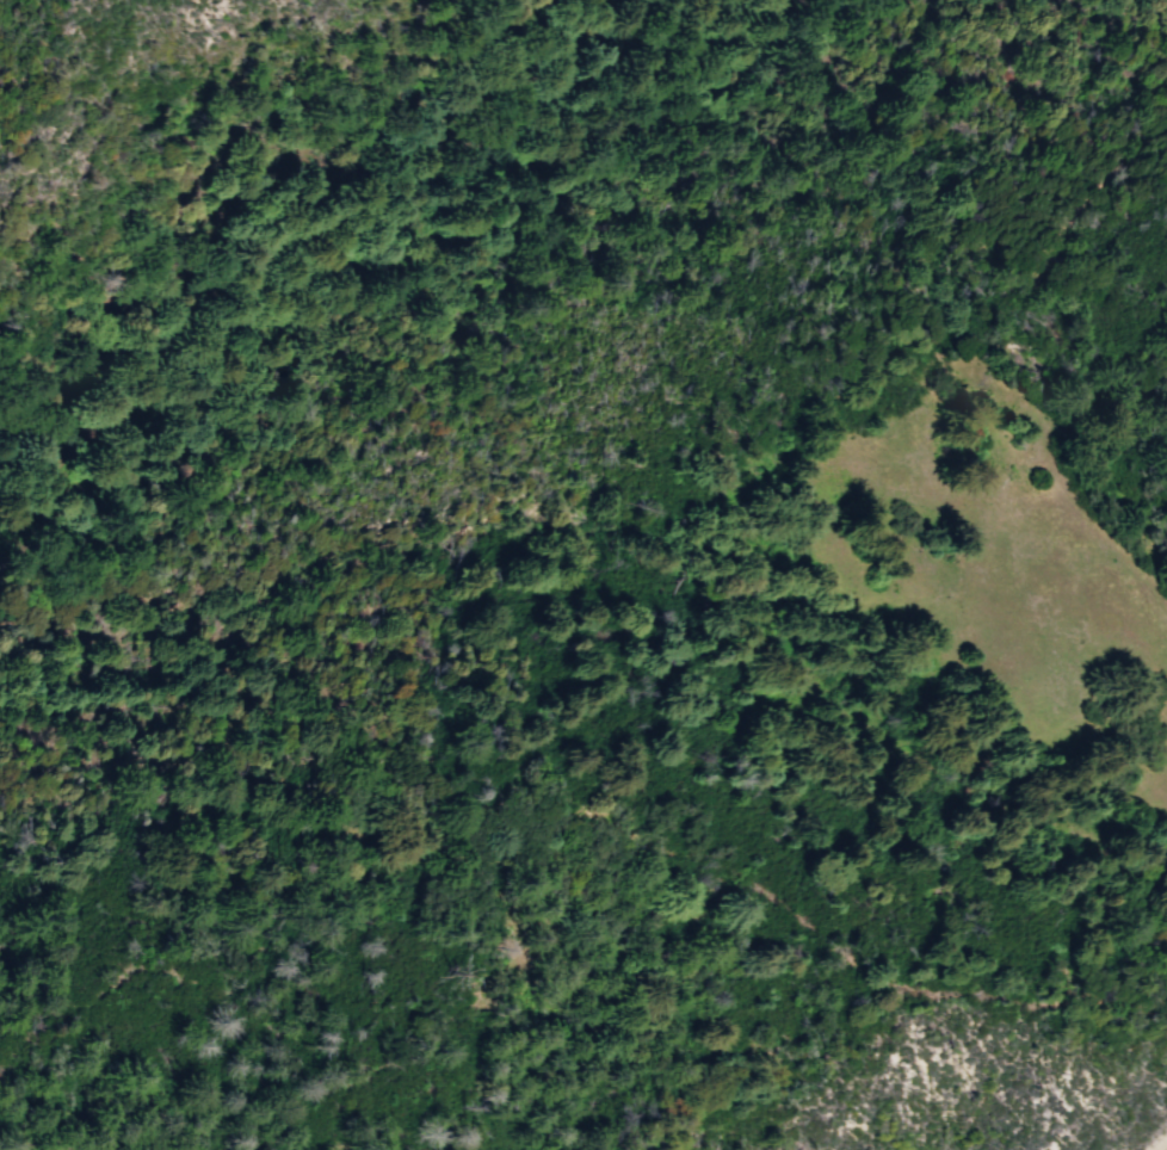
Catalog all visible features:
road: (1081, 227)
road: (1118, 549)
road: (593, 951)

